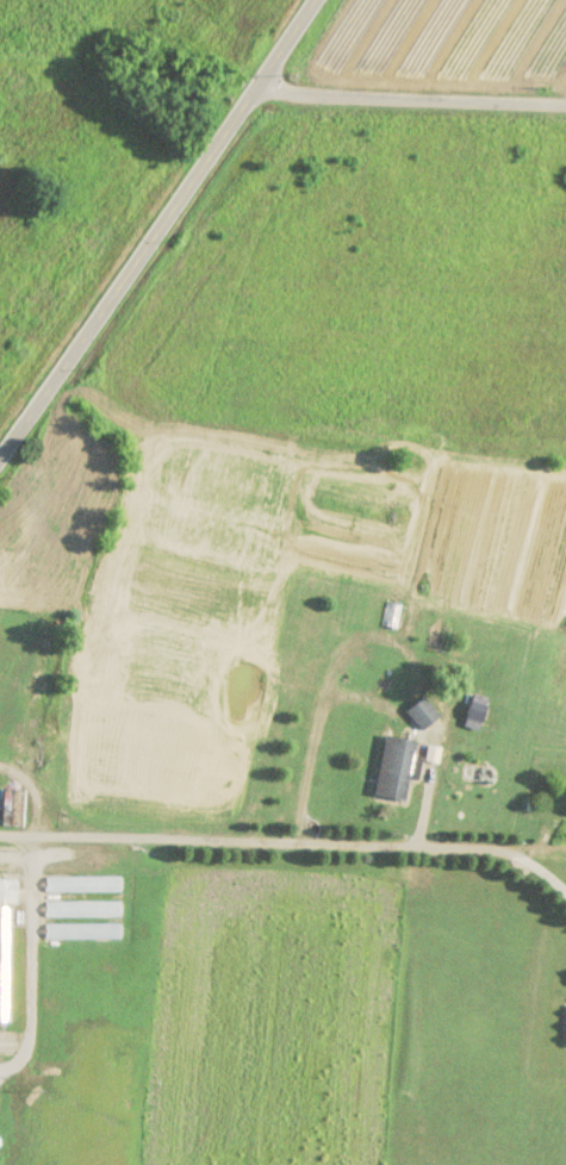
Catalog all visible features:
road: (423, 101)
road: (163, 230)
building: (397, 581)
crop: (282, 582)
building: (474, 711)
building: (393, 768)
building: (10, 809)
building: (81, 885)
building: (7, 891)
building: (81, 909)
building: (81, 932)
building: (4, 966)

